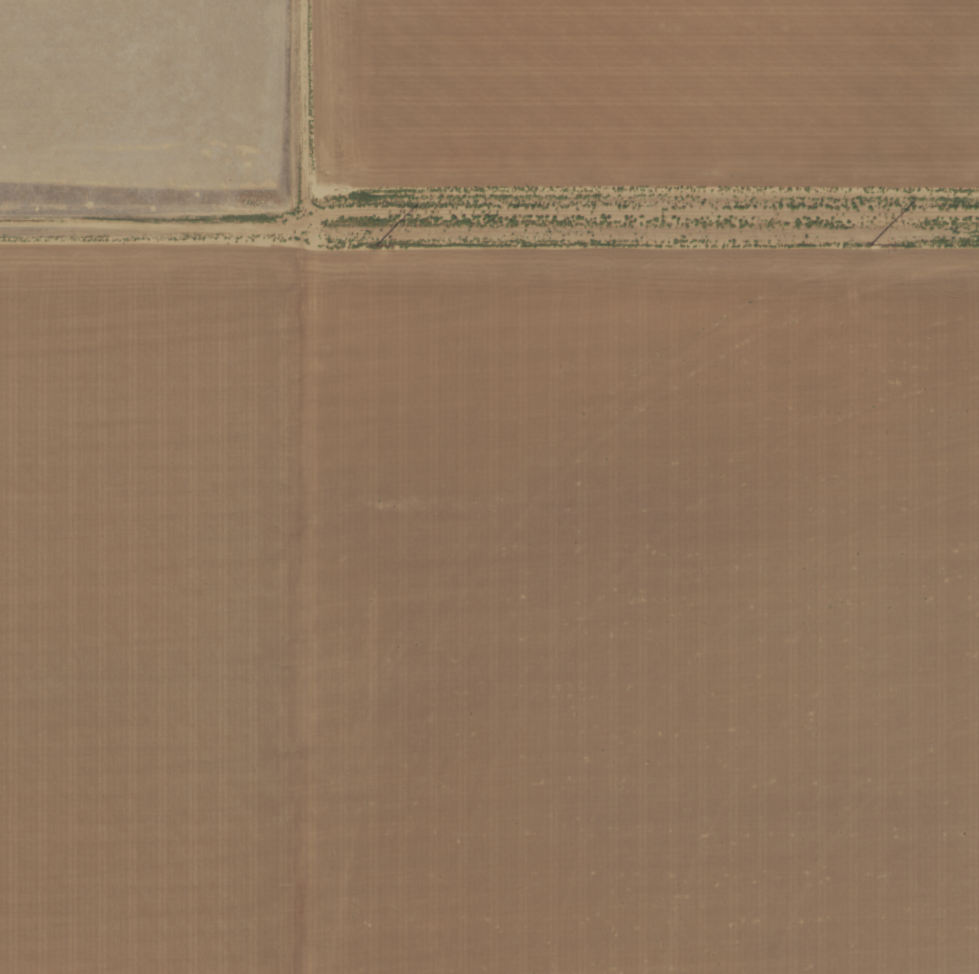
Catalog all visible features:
road: (489, 215)
road: (303, 487)

